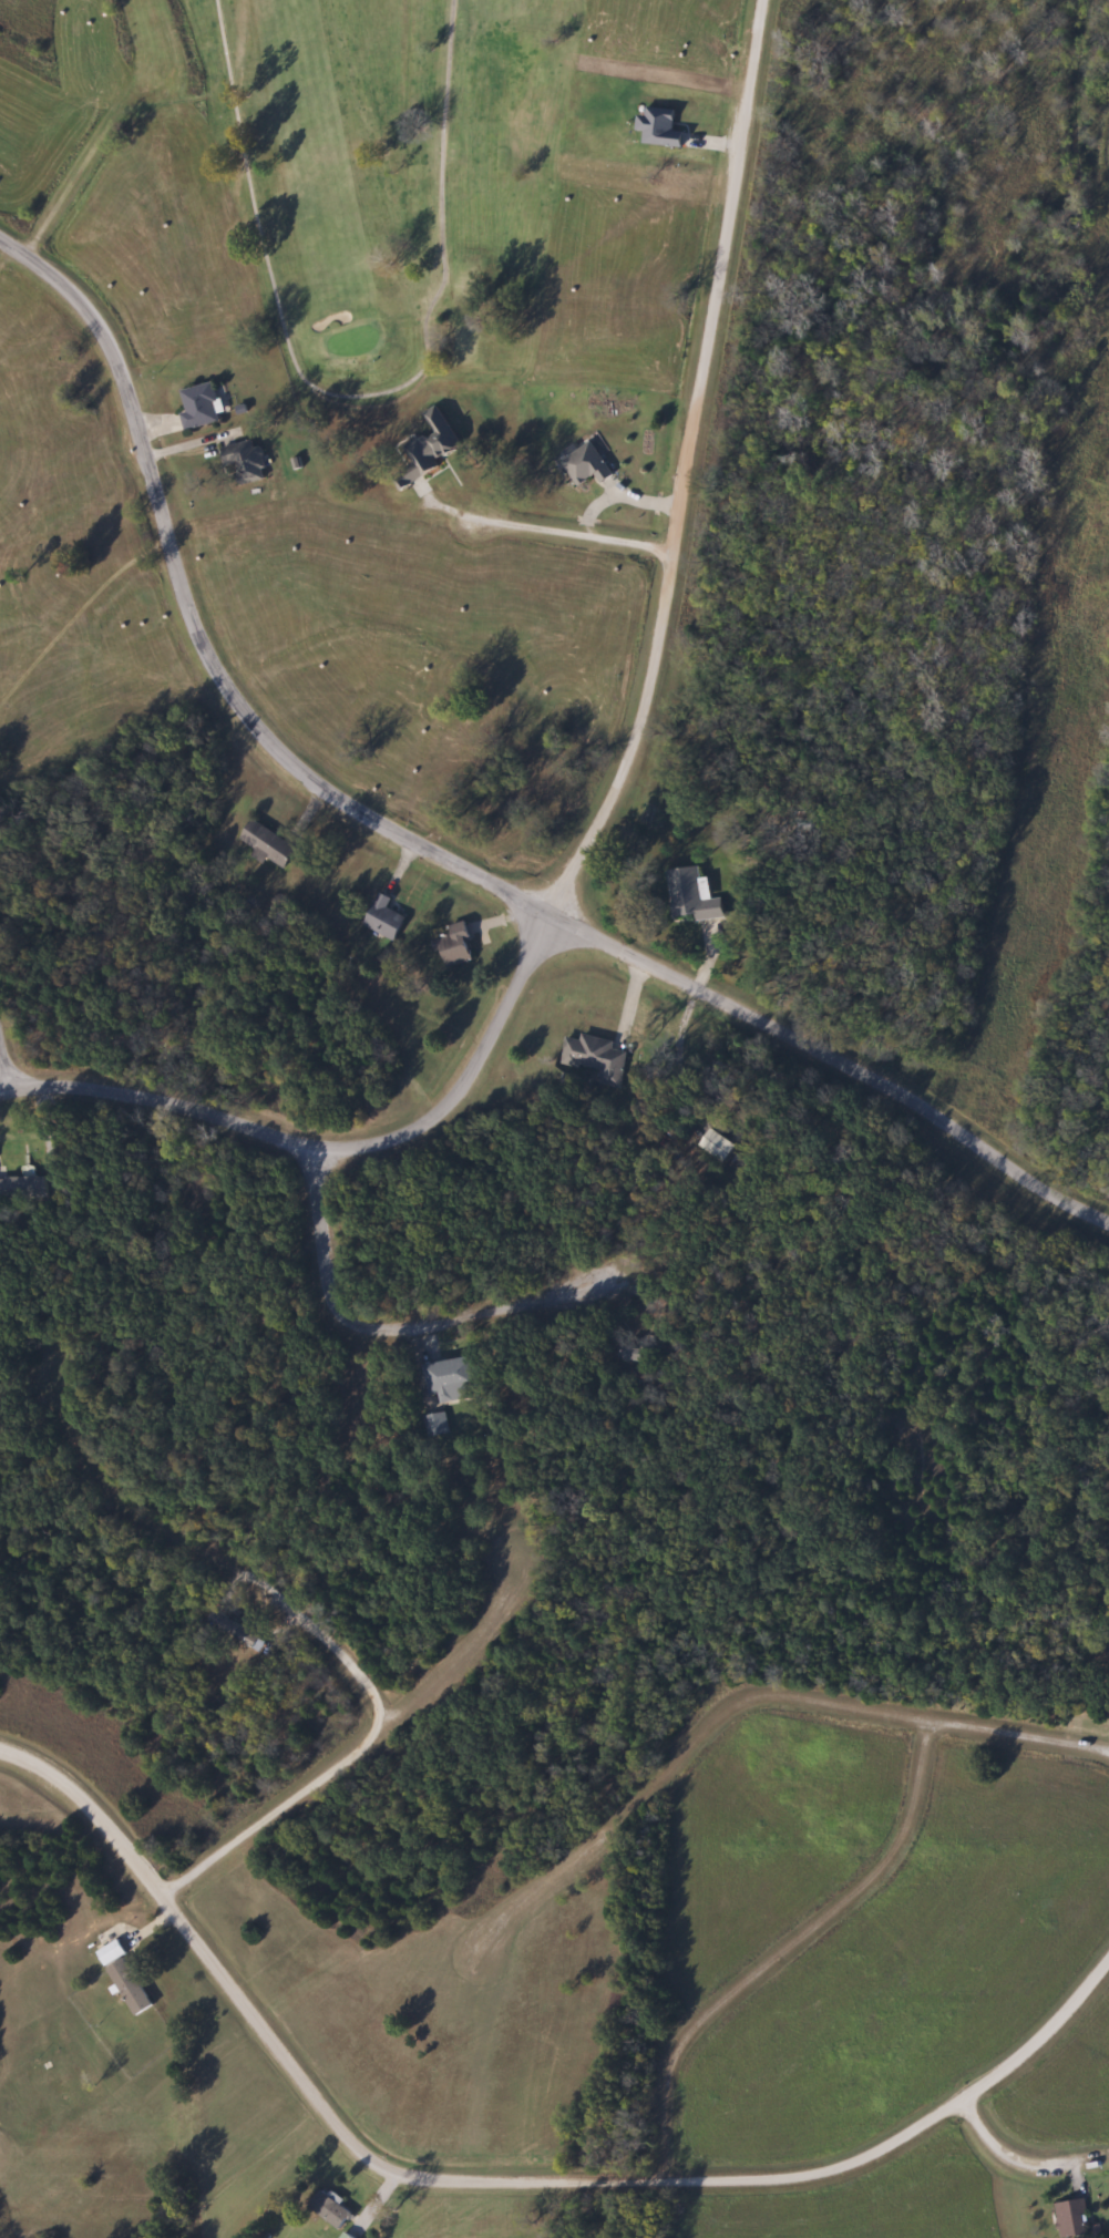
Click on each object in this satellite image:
building: (657, 129)
building: (197, 407)
building: (425, 449)
building: (243, 462)
building: (584, 465)
road: (543, 554)
road: (612, 799)
building: (265, 844)
road: (425, 848)
building: (688, 895)
building: (381, 918)
building: (452, 946)
building: (592, 1058)
road: (4, 1067)
building: (708, 1146)
building: (19, 1188)
road: (388, 1327)
building: (624, 1355)
building: (449, 1379)
building: (433, 1425)
road: (210, 1556)
building: (230, 1630)
road: (763, 1732)
road: (353, 1753)
road: (797, 1973)
building: (123, 1978)
road: (994, 2142)
road: (1072, 2165)
road: (495, 2183)
building: (327, 2209)
building: (1069, 2219)
building: (343, 2236)

